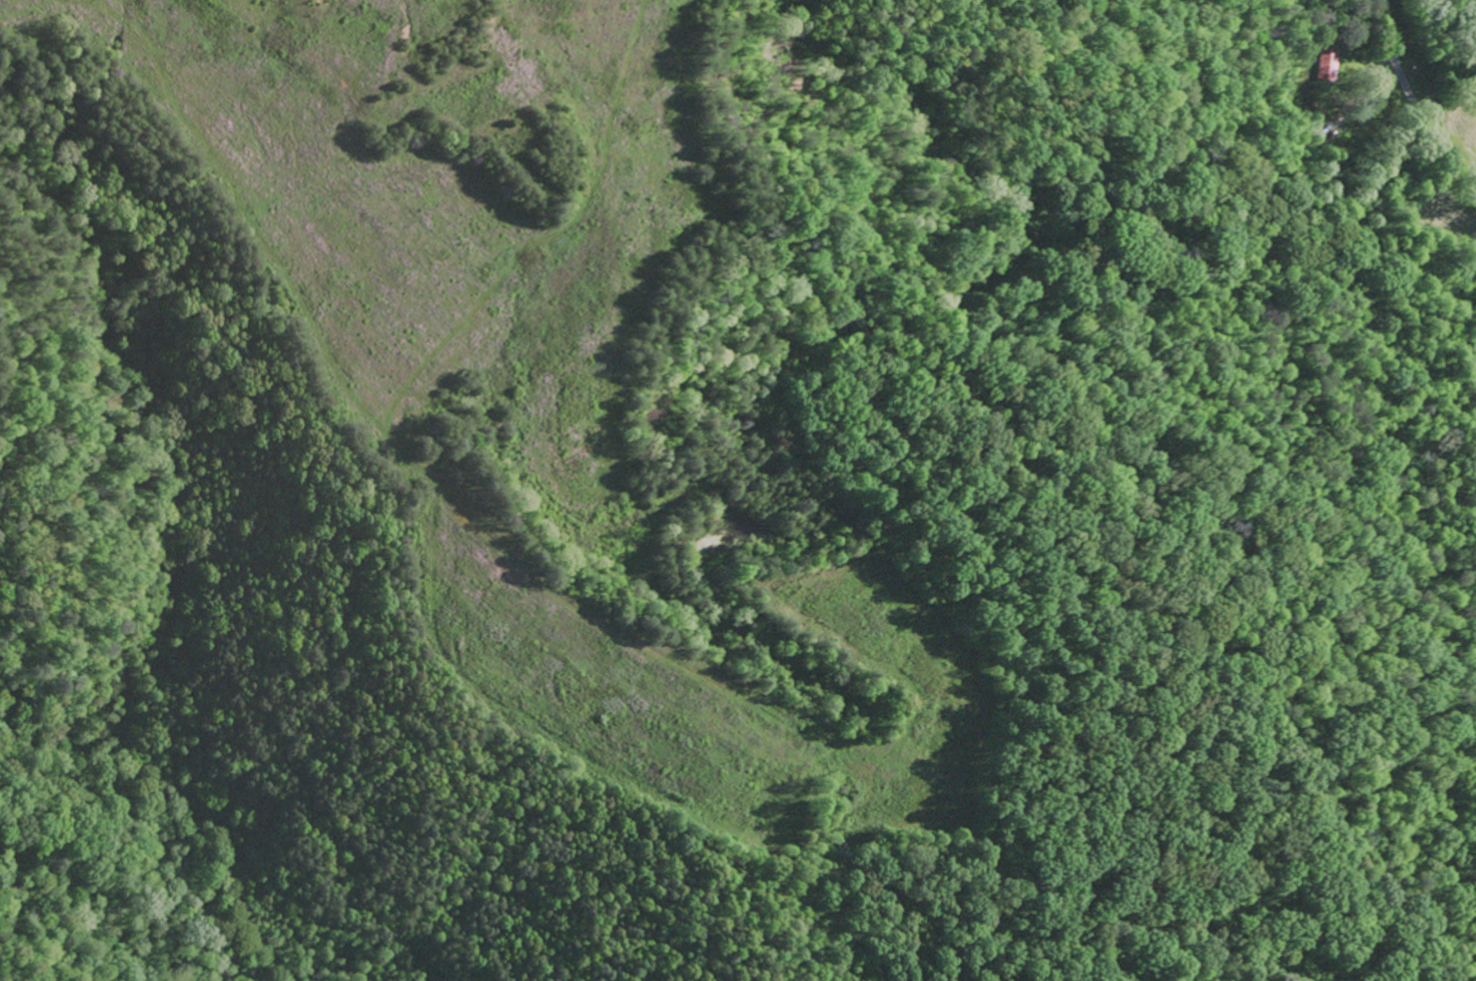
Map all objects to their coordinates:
road: (1411, 93)
road: (165, 866)

